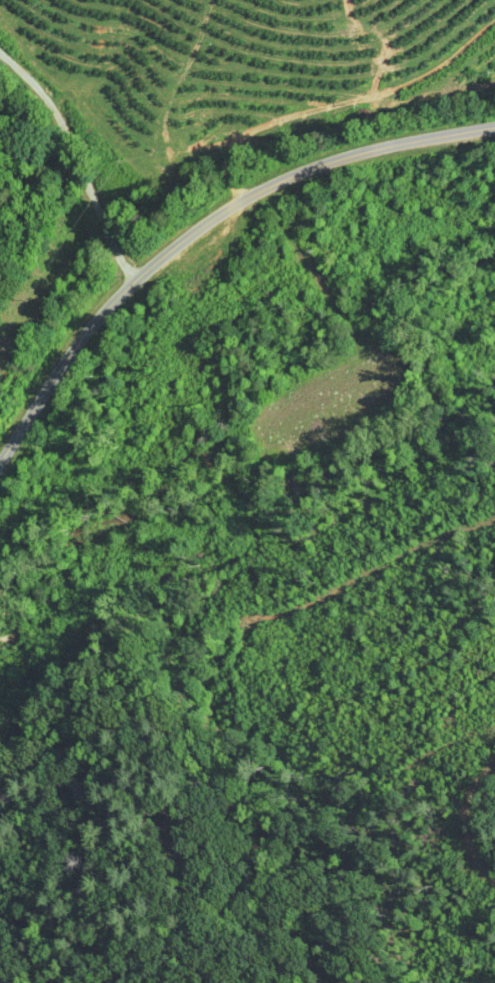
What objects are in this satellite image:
road: (85, 148)
road: (201, 228)
river: (303, 481)

